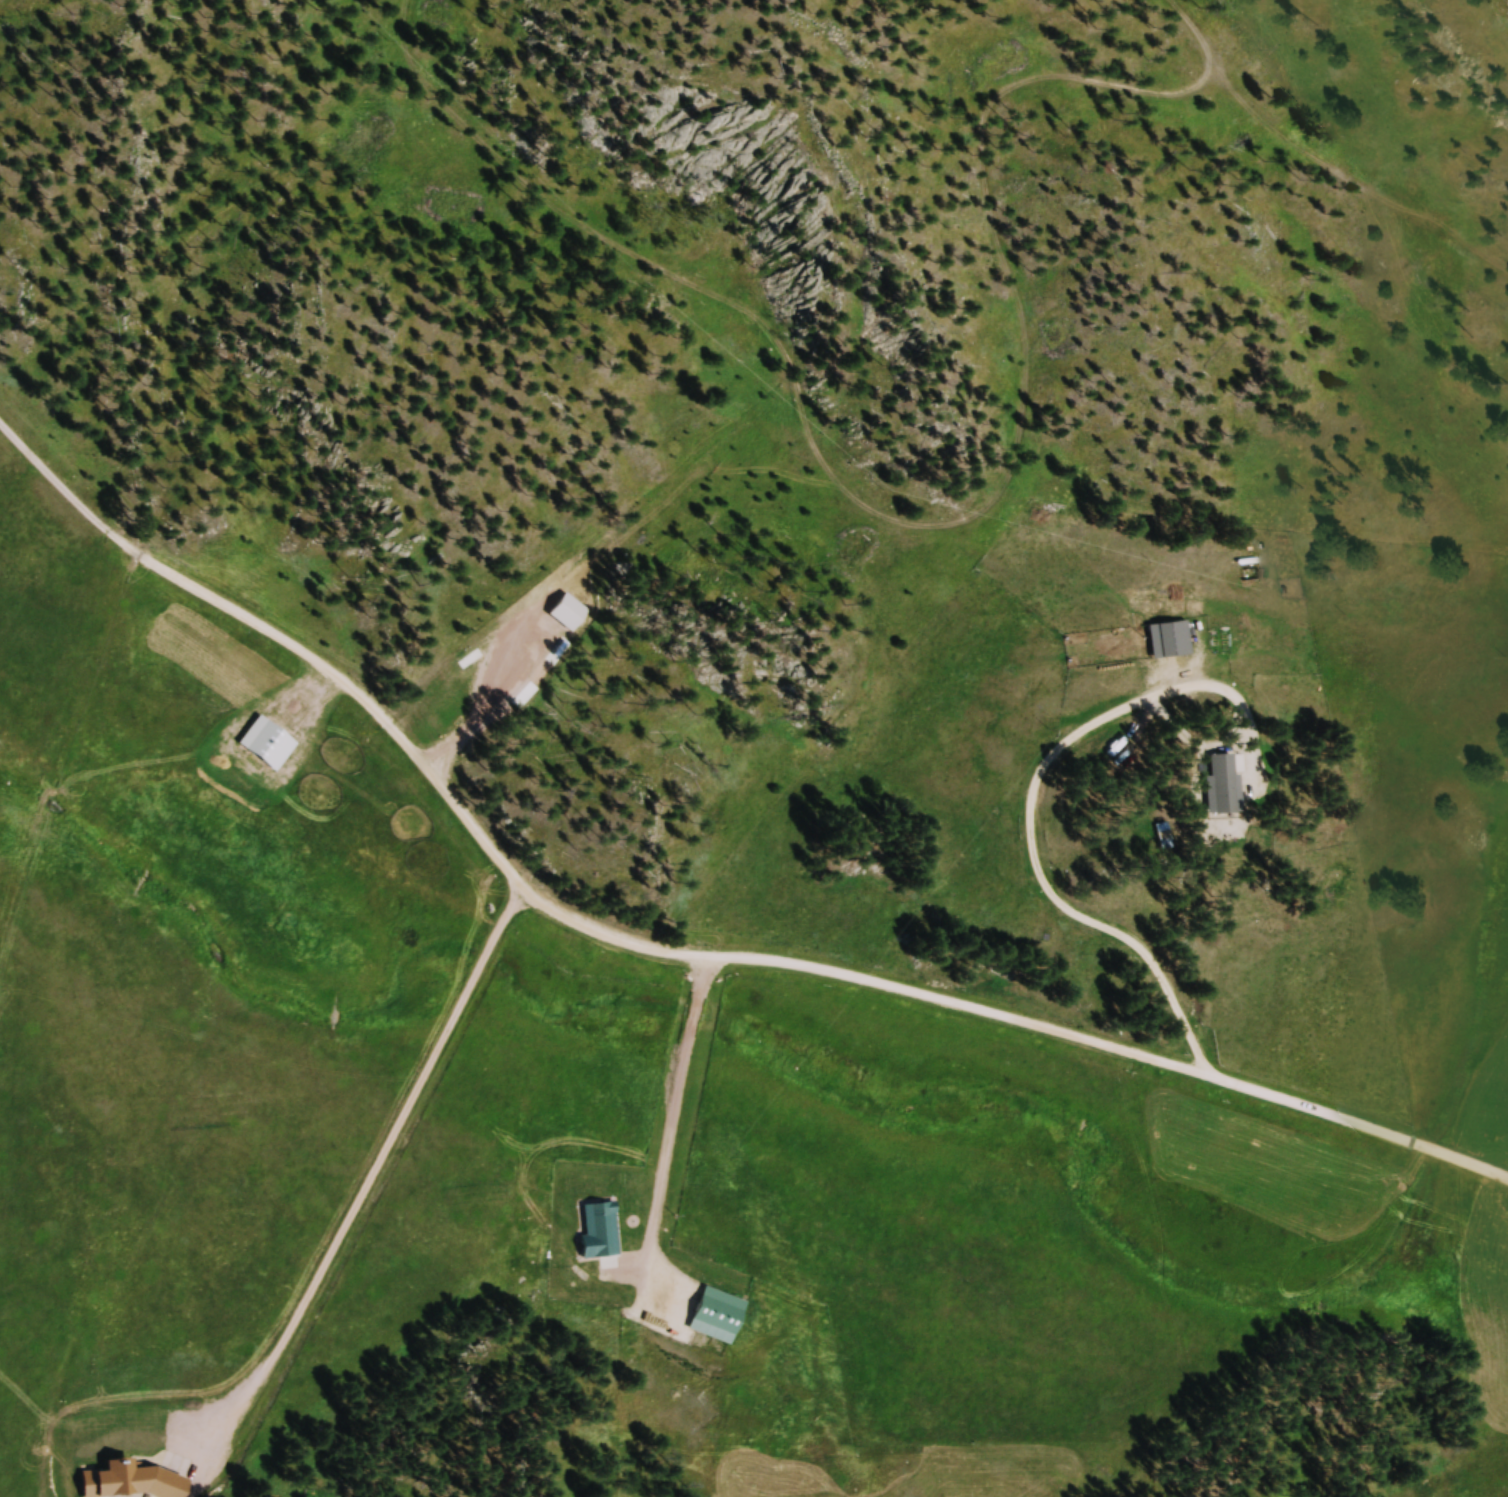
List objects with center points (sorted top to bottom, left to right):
road: (1193, 28)
building: (1168, 642)
building: (265, 747)
building: (1218, 786)
road: (675, 947)
building: (598, 1232)
building: (715, 1316)

